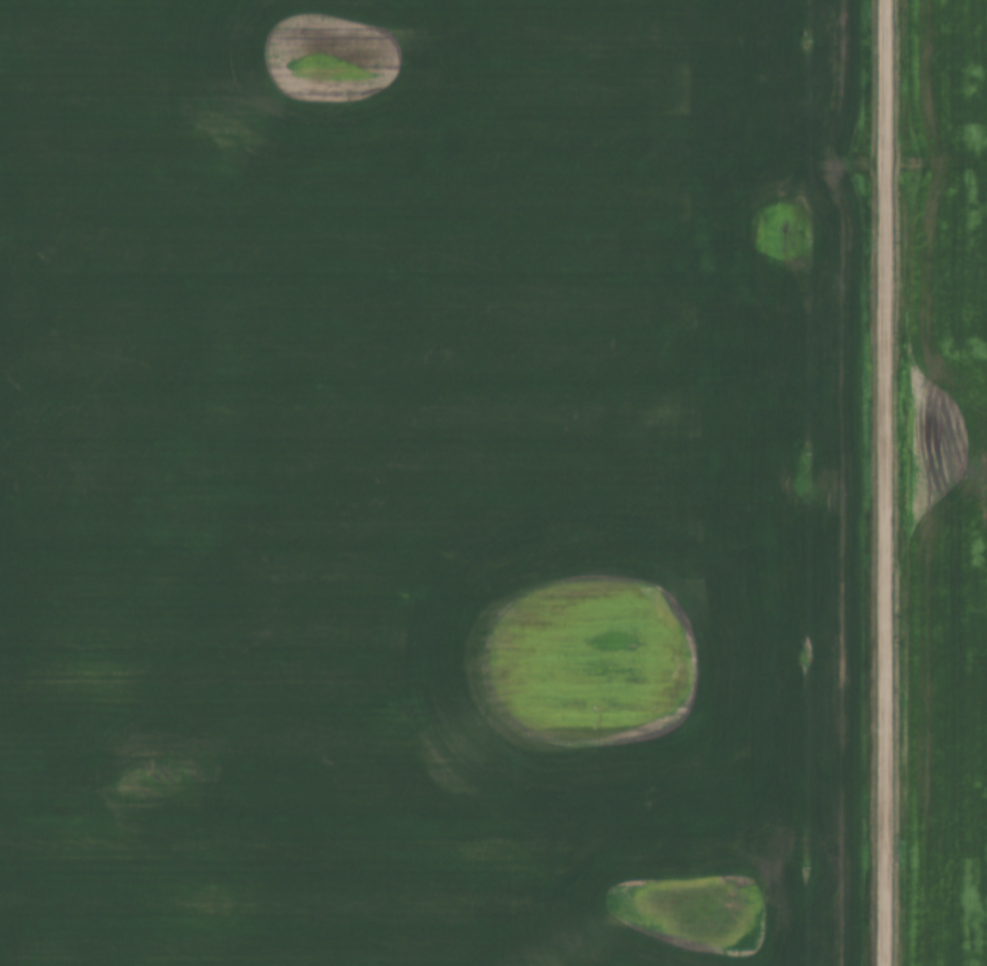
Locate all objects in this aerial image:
road: (883, 483)

